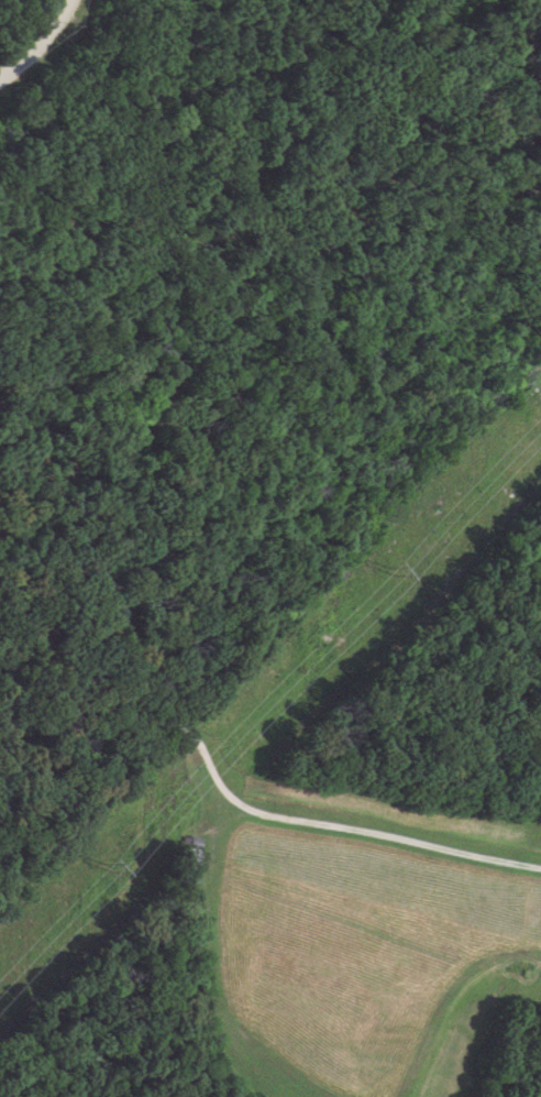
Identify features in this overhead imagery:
road: (43, 55)
power tower: (391, 577)
road: (234, 794)
building: (189, 865)
power tower: (109, 869)

